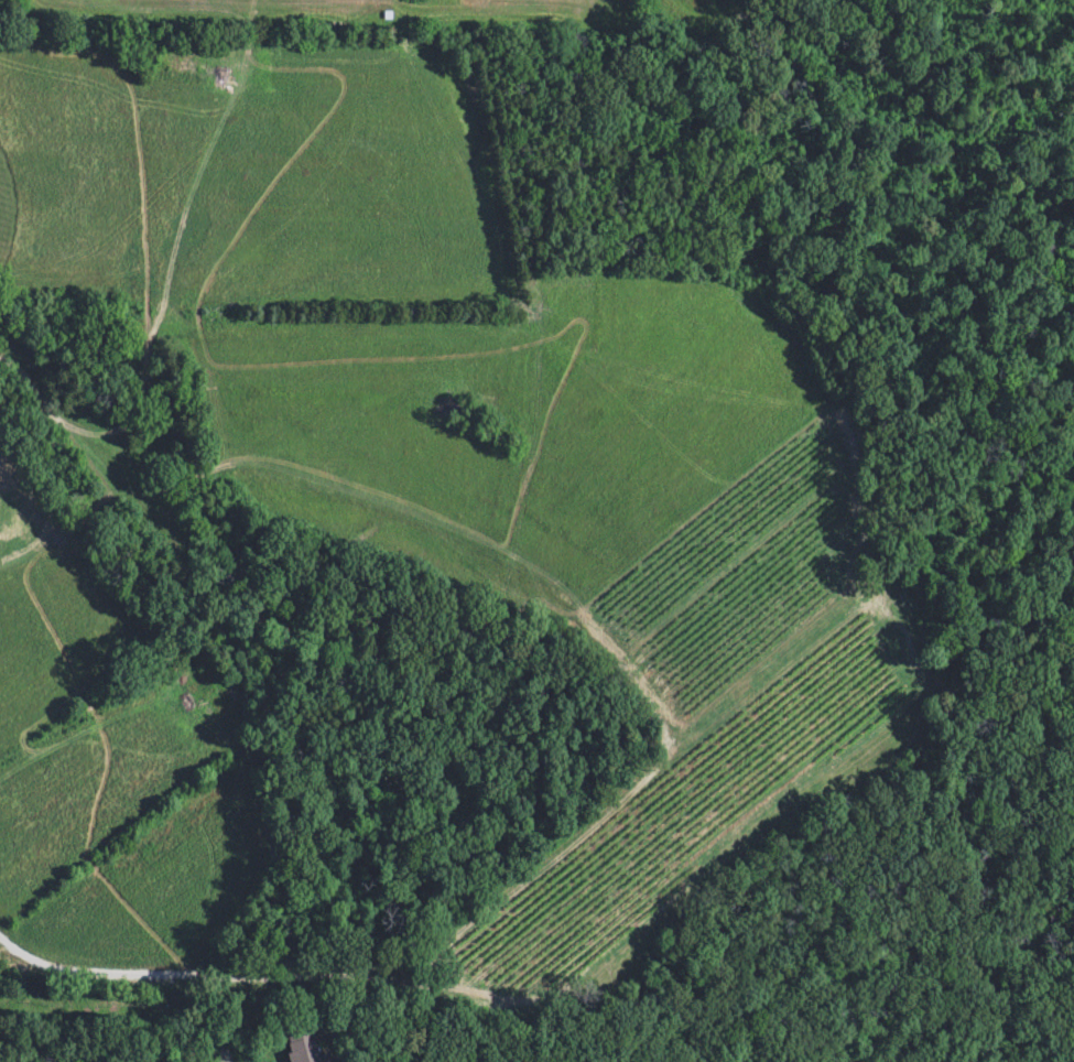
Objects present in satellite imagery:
building: (303, 1049)

